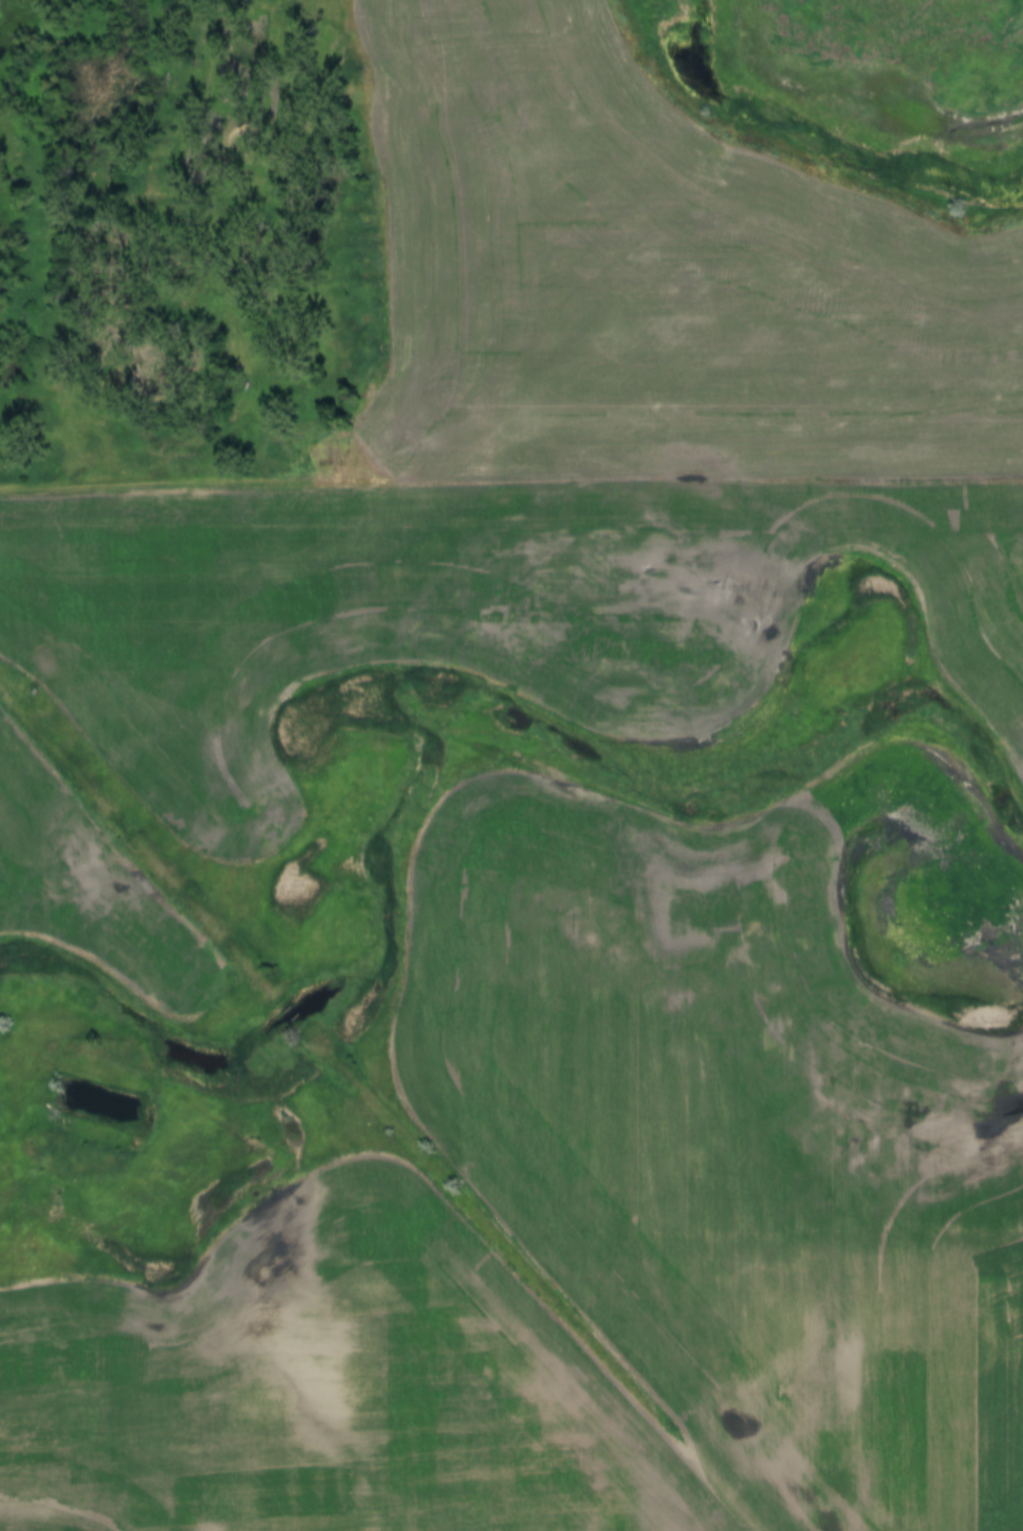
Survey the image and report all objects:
road: (183, 477)

